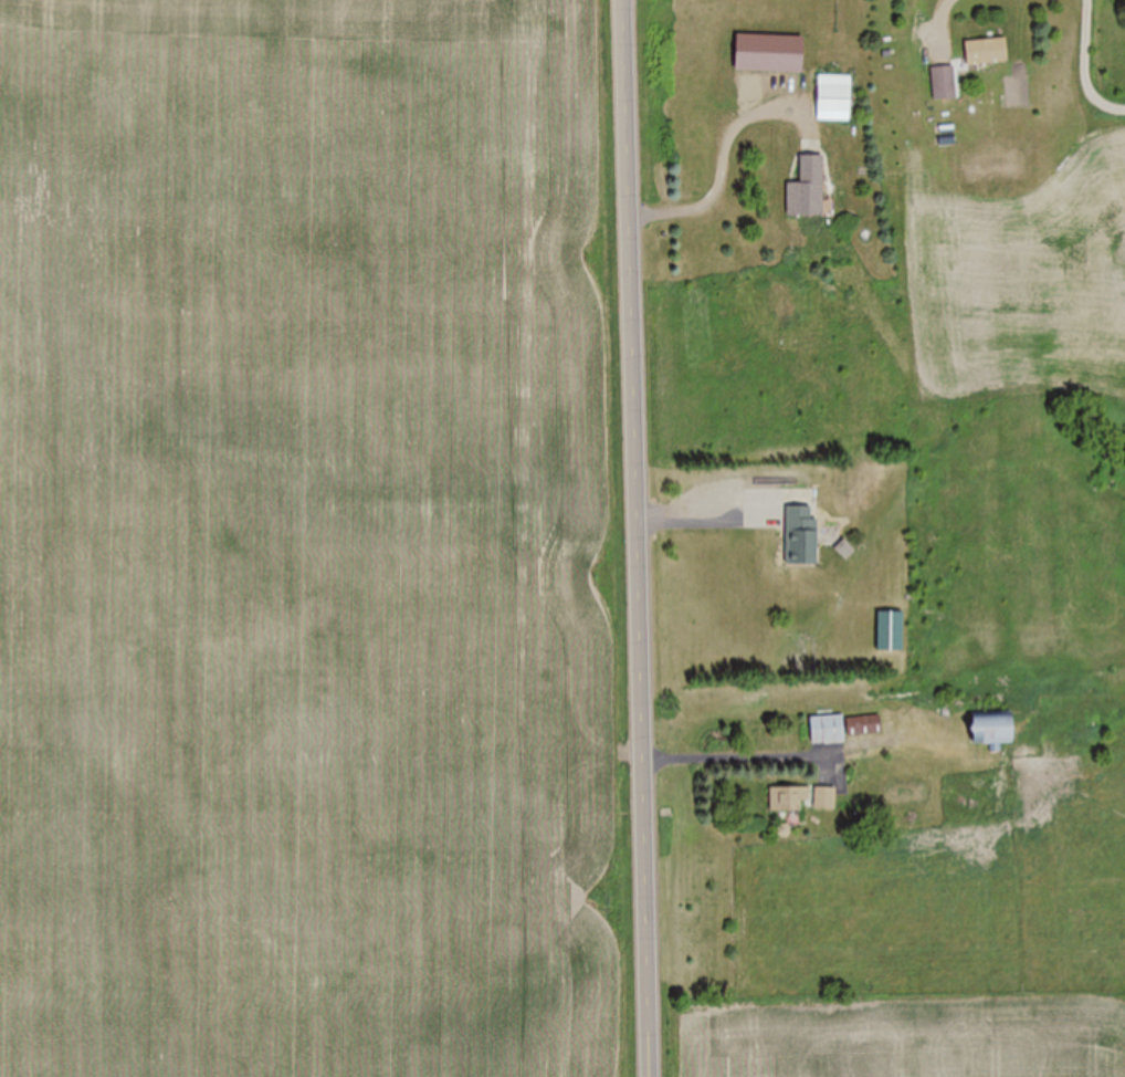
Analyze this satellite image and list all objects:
building: (986, 53)
building: (944, 84)
building: (833, 98)
road: (944, 106)
road: (1014, 137)
building: (808, 188)
building: (801, 535)
road: (637, 537)
building: (890, 632)
building: (864, 726)
building: (989, 729)
building: (827, 731)
building: (788, 799)

